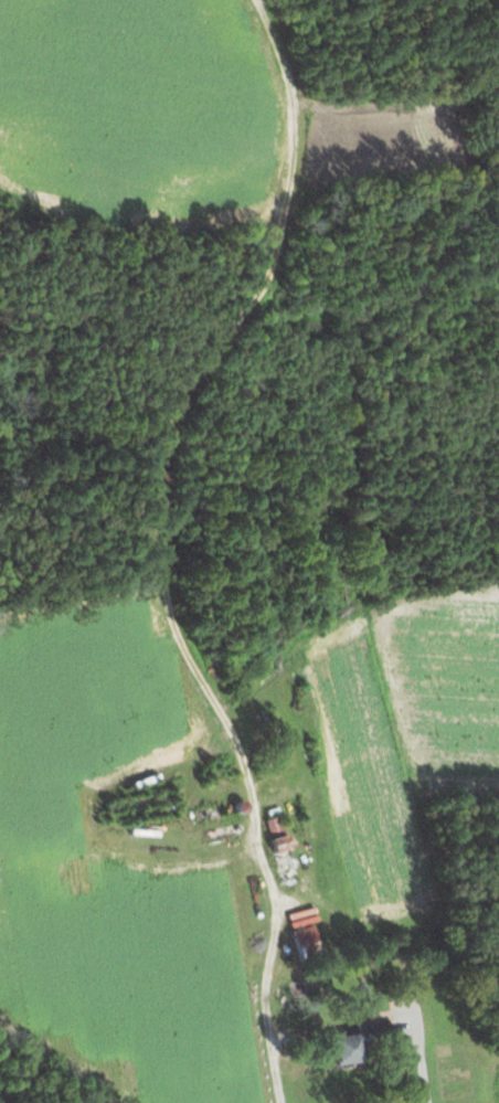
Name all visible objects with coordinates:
building: (274, 834)
building: (302, 942)
road: (275, 951)
building: (360, 1044)
road: (425, 1069)

